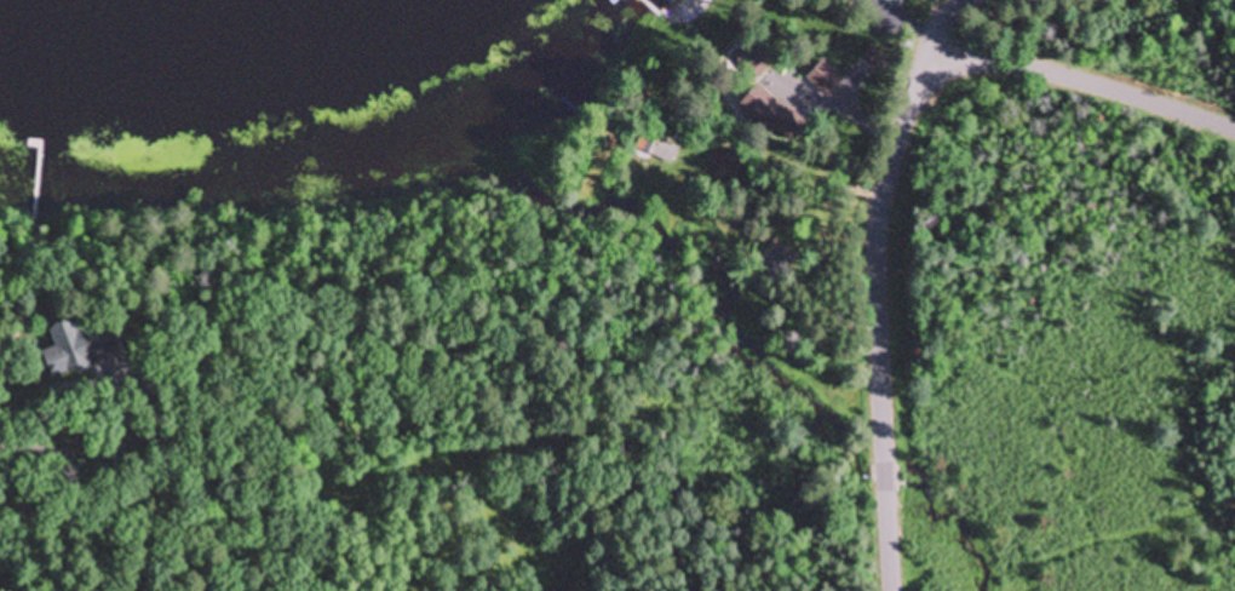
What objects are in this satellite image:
building: (895, 1)
road: (935, 29)
building: (751, 58)
building: (825, 76)
building: (771, 114)
building: (656, 148)
road: (894, 162)
building: (779, 262)
building: (80, 345)

